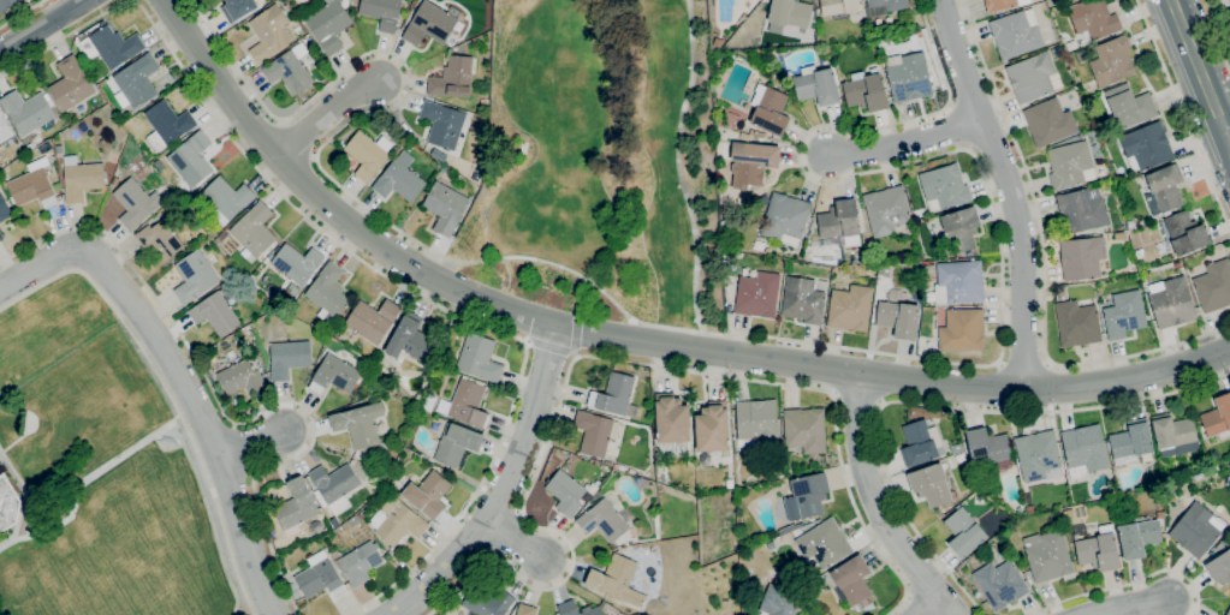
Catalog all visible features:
building: (1224, 1)
building: (6, 4)
building: (890, 4)
building: (1003, 4)
building: (839, 6)
building: (237, 8)
building: (382, 12)
building: (790, 12)
road: (22, 13)
building: (1093, 18)
road: (40, 24)
building: (430, 24)
building: (863, 24)
building: (328, 25)
building: (877, 28)
road: (1218, 28)
building: (268, 34)
building: (1016, 34)
road: (63, 37)
building: (718, 42)
building: (112, 46)
building: (1056, 52)
building: (1081, 56)
building: (1112, 60)
building: (482, 65)
building: (289, 72)
road: (1200, 72)
building: (908, 76)
building: (453, 77)
building: (1033, 77)
building: (137, 79)
building: (70, 84)
building: (816, 85)
building: (866, 90)
building: (483, 102)
building: (1129, 106)
building: (770, 109)
building: (29, 112)
road: (362, 113)
road: (1183, 115)
road: (329, 120)
building: (1048, 121)
building: (442, 124)
building: (167, 125)
building: (4, 129)
building: (751, 132)
road: (1228, 132)
building: (759, 133)
building: (744, 137)
road: (909, 141)
building: (1147, 147)
building: (366, 154)
building: (191, 159)
park: (602, 162)
building: (751, 162)
building: (1069, 165)
building: (921, 167)
building: (2, 173)
building: (475, 174)
road: (679, 174)
building: (82, 178)
building: (399, 181)
building: (32, 185)
building: (57, 186)
building: (944, 187)
road: (1011, 189)
building: (1164, 189)
building: (227, 198)
building: (135, 203)
building: (446, 207)
building: (4, 209)
building: (1082, 209)
building: (886, 210)
building: (785, 219)
building: (840, 223)
building: (961, 228)
road: (997, 228)
building: (256, 231)
building: (1186, 233)
building: (1, 235)
building: (221, 235)
building: (1121, 235)
building: (159, 239)
building: (1082, 258)
building: (297, 263)
building: (929, 268)
road: (1042, 269)
building: (194, 276)
building: (958, 282)
building: (1213, 286)
building: (328, 293)
building: (757, 294)
building: (931, 295)
road: (584, 298)
building: (802, 300)
building: (1171, 301)
road: (436, 305)
building: (850, 306)
building: (215, 311)
building: (1124, 314)
building: (874, 315)
building: (898, 317)
building: (369, 322)
building: (1076, 323)
building: (959, 328)
road: (574, 333)
road: (634, 338)
building: (410, 339)
road: (547, 348)
building: (289, 357)
building: (345, 357)
building: (479, 358)
road: (608, 359)
road: (1022, 362)
building: (334, 375)
building: (240, 377)
road: (179, 378)
road: (166, 392)
building: (617, 396)
road: (856, 399)
building: (465, 402)
road: (935, 405)
road: (231, 417)
building: (1218, 417)
building: (671, 418)
building: (756, 422)
building: (360, 424)
building: (713, 426)
building: (804, 430)
building: (1172, 430)
building: (593, 432)
road: (250, 443)
building: (454, 443)
building: (920, 443)
building: (1131, 443)
building: (987, 447)
building: (956, 448)
building: (1083, 450)
building: (390, 453)
building: (360, 454)
building: (1039, 455)
building: (959, 456)
building: (619, 467)
building: (729, 483)
building: (932, 484)
building: (334, 486)
road: (503, 488)
building: (566, 492)
building: (809, 492)
building: (428, 494)
building: (7, 503)
road: (878, 503)
building: (296, 504)
building: (396, 520)
building: (604, 520)
building: (789, 529)
building: (1198, 529)
building: (964, 532)
building: (1139, 537)
road: (516, 543)
building: (822, 543)
building: (771, 544)
building: (1099, 551)
building: (1047, 555)
building: (1220, 562)
building: (360, 563)
building: (320, 577)
building: (617, 580)
building: (851, 580)
building: (999, 584)
road: (1130, 584)
building: (487, 602)
building: (782, 602)
road: (1130, 605)
road: (932, 607)
building: (525, 609)
building: (577, 609)
building: (1228, 613)

